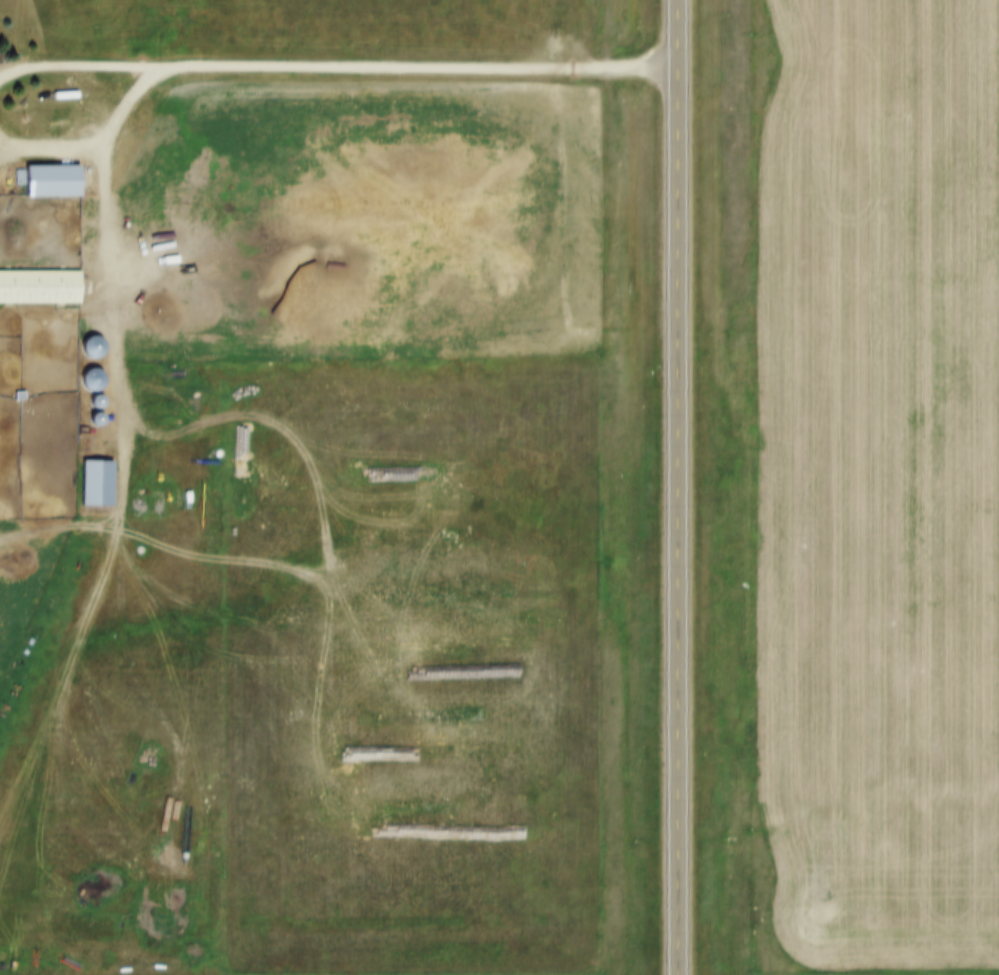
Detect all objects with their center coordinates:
road: (79, 69)
road: (418, 71)
road: (99, 148)
building: (42, 173)
building: (36, 278)
building: (86, 337)
building: (85, 370)
road: (676, 487)
road: (117, 526)

